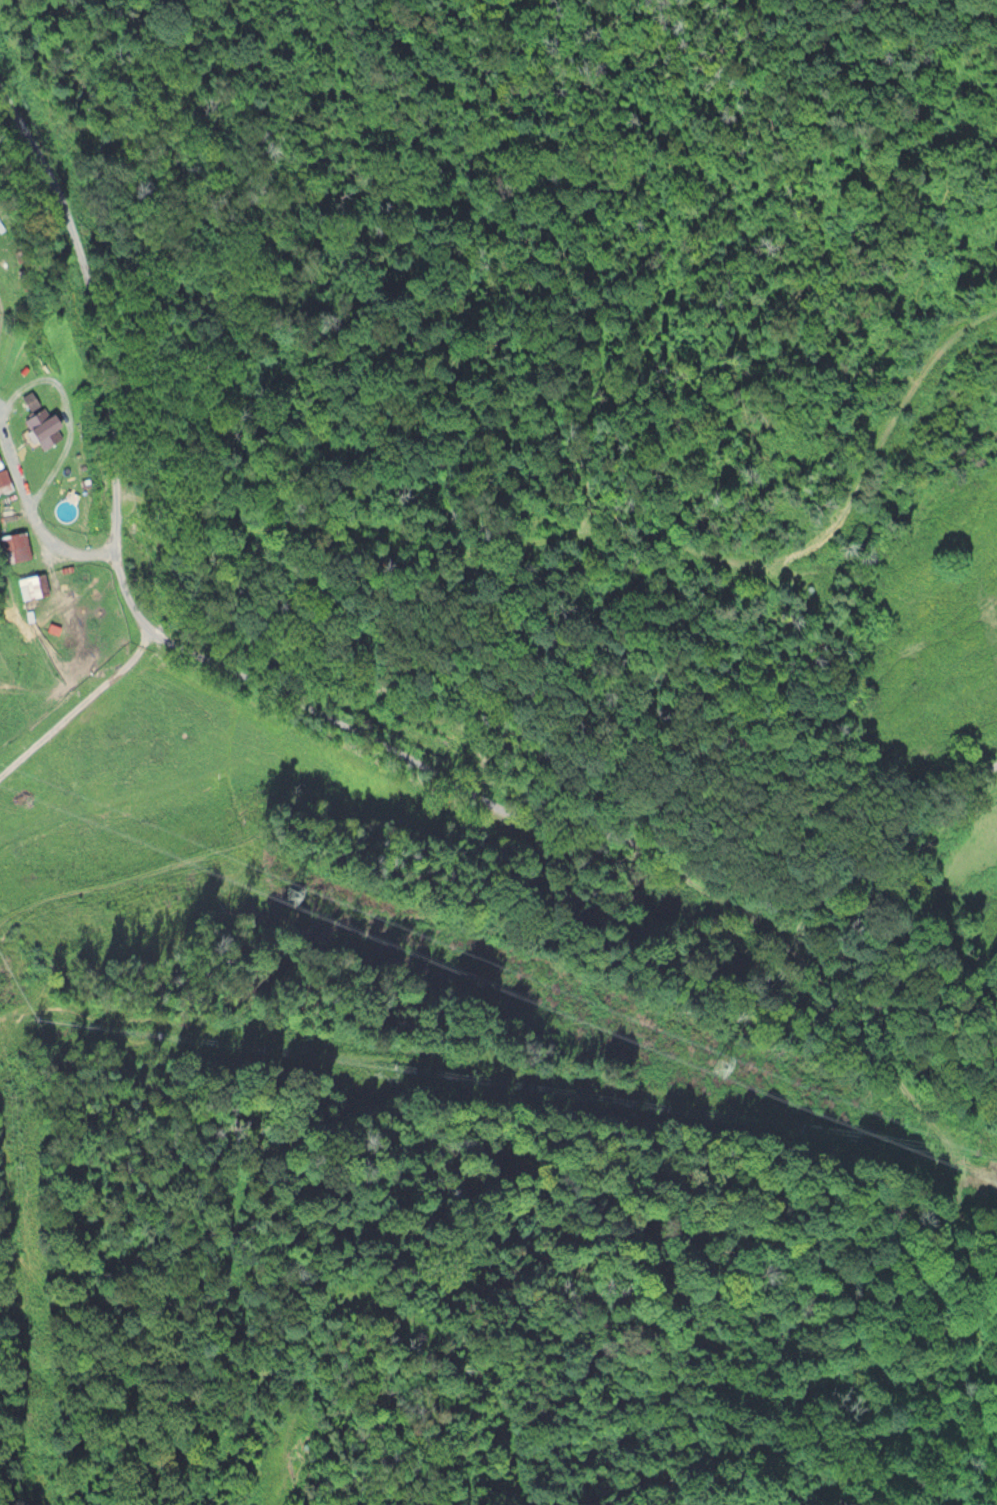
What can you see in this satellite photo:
building: (29, 399)
building: (41, 427)
building: (4, 480)
building: (14, 545)
building: (32, 584)
road: (333, 692)
building: (274, 767)

